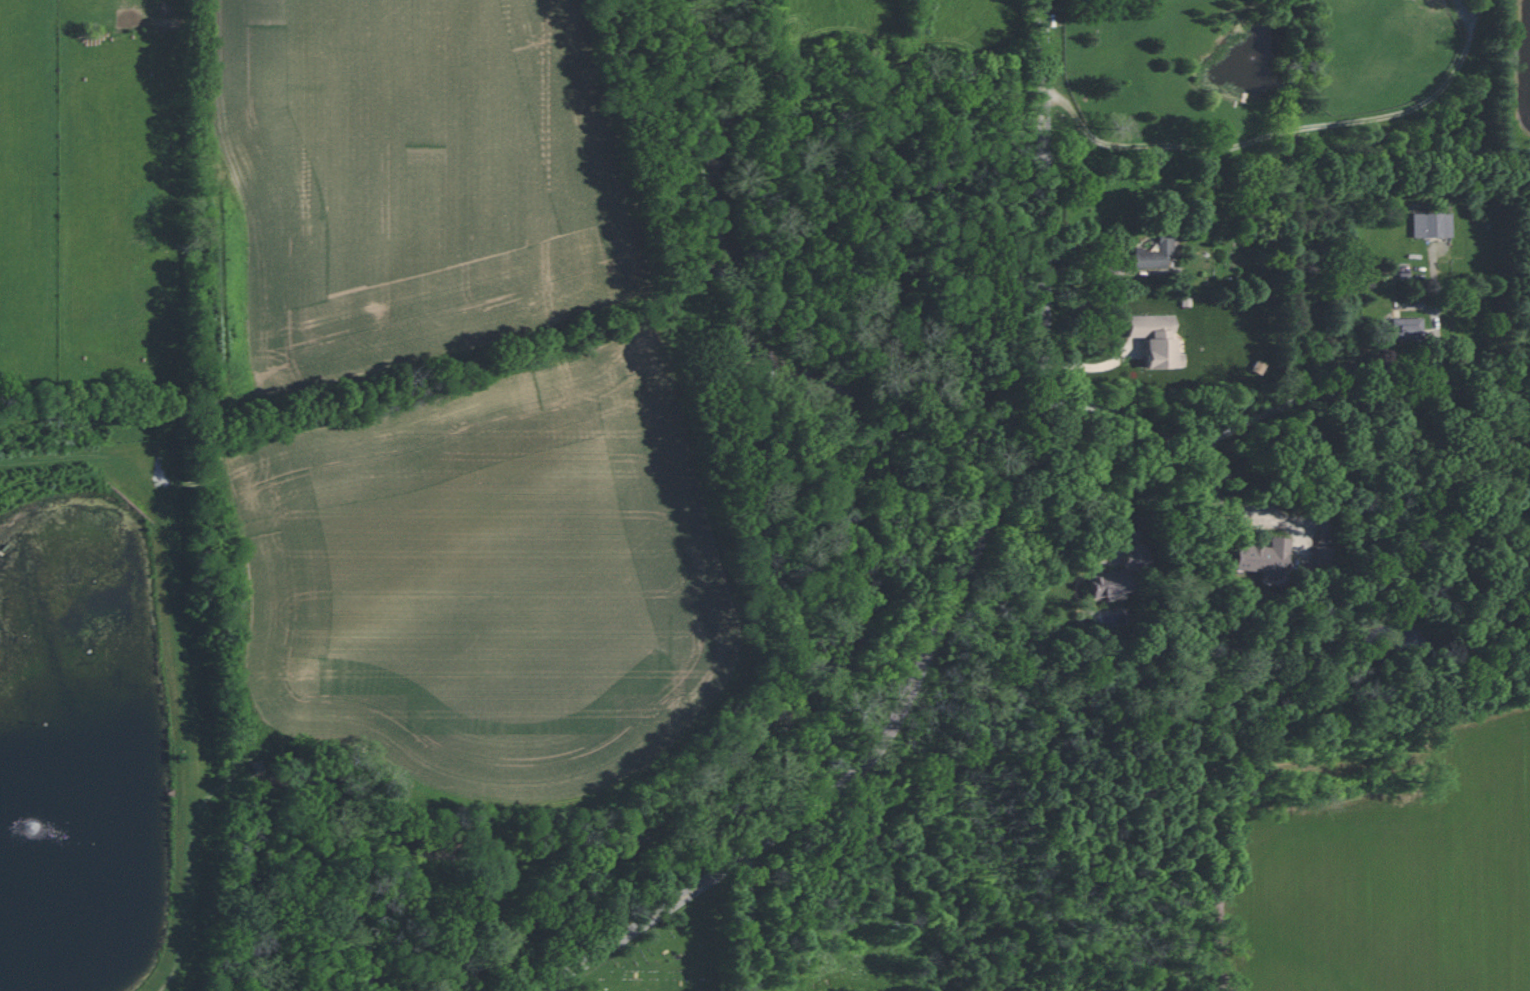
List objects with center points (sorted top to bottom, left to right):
road: (1275, 136)
building: (1432, 224)
building: (1154, 253)
building: (1407, 328)
building: (1156, 339)
road: (1439, 350)
road: (1095, 366)
road: (1278, 407)
road: (1126, 491)
road: (996, 510)
road: (1301, 521)
building: (1322, 557)
building: (1263, 559)
building: (1119, 574)
wastewater plant: (101, 723)
road: (609, 946)
park: (667, 954)

